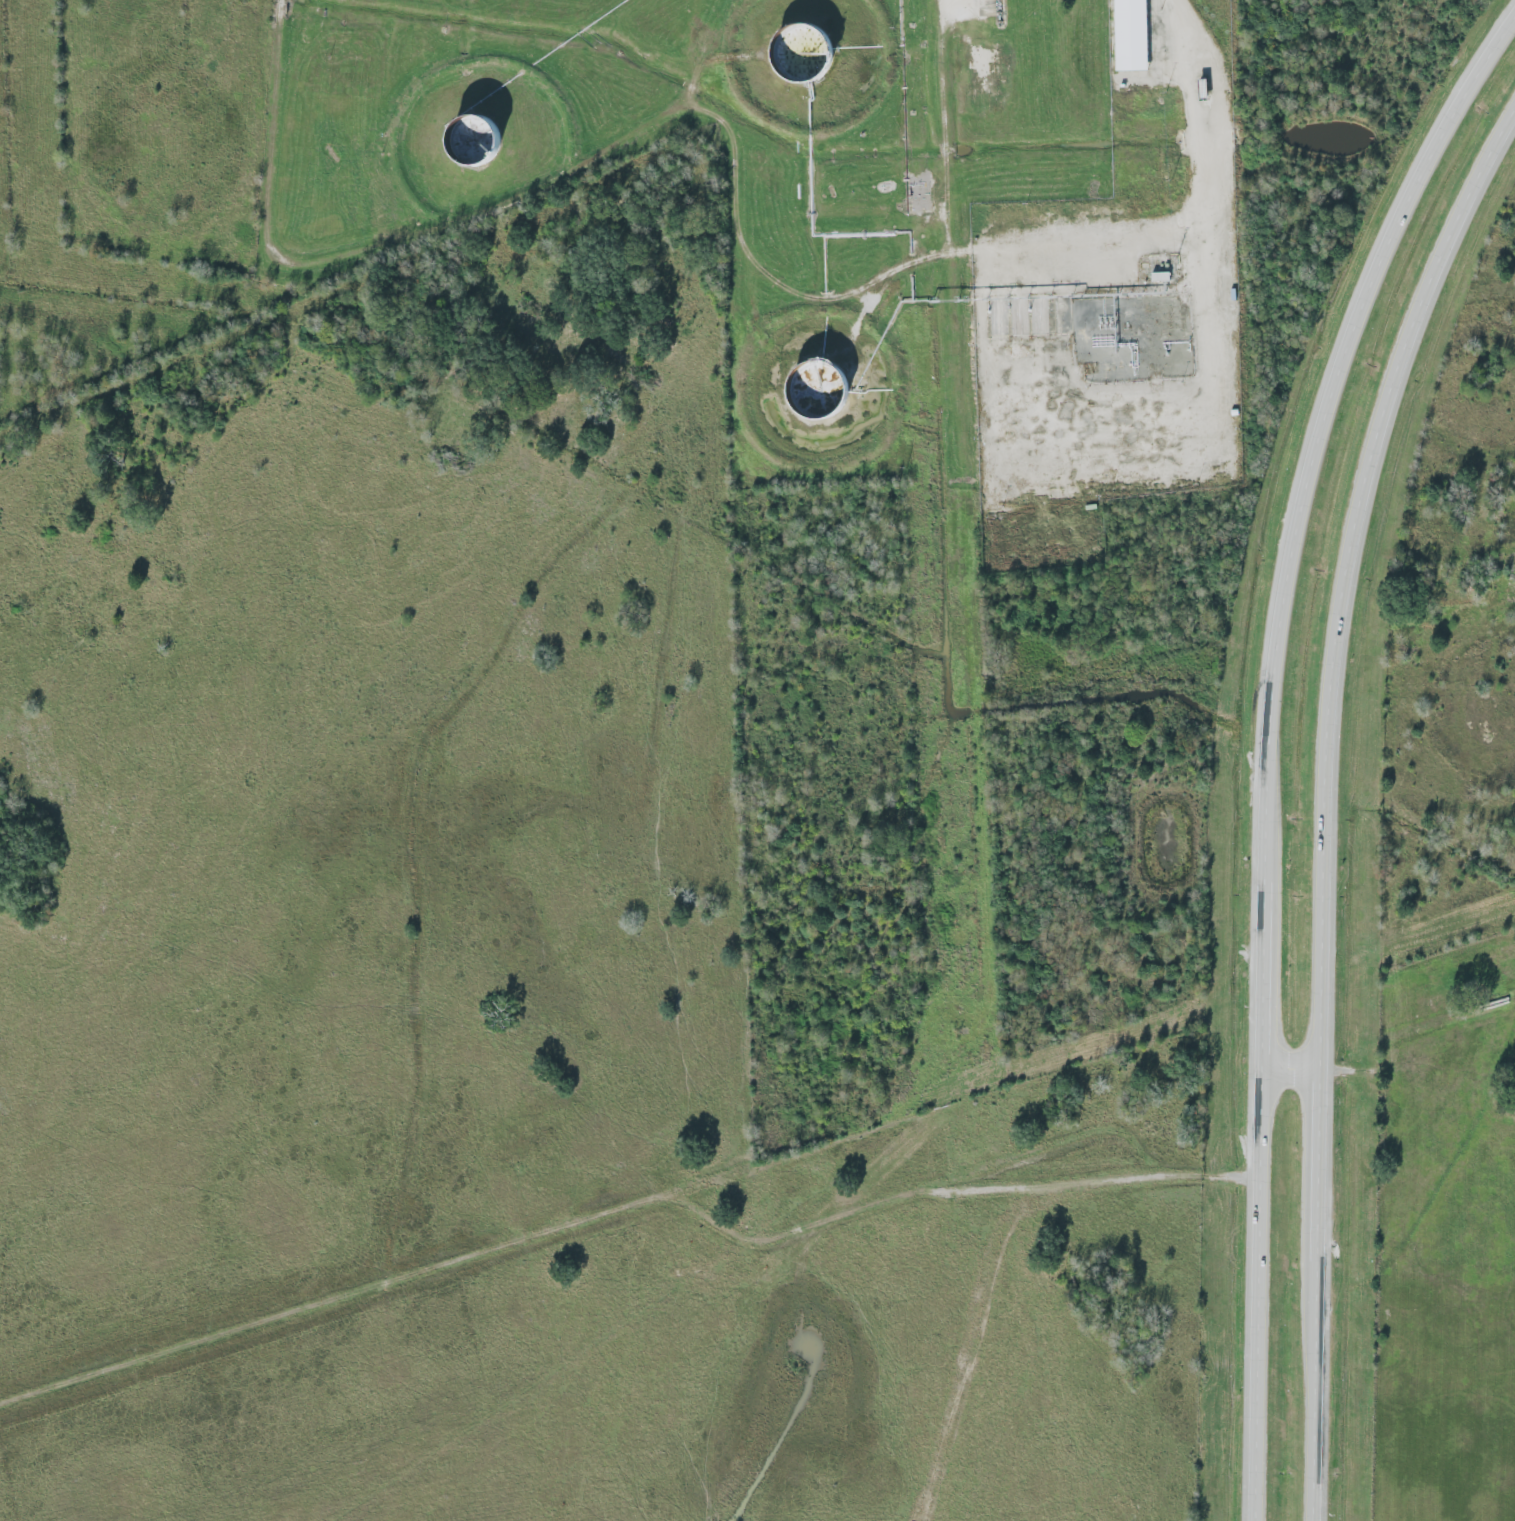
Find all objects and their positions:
building: (1134, 35)
road: (567, 180)
building: (1162, 276)
road: (1227, 341)
road: (970, 530)
road: (1272, 745)
road: (1332, 802)
road: (1296, 1063)

